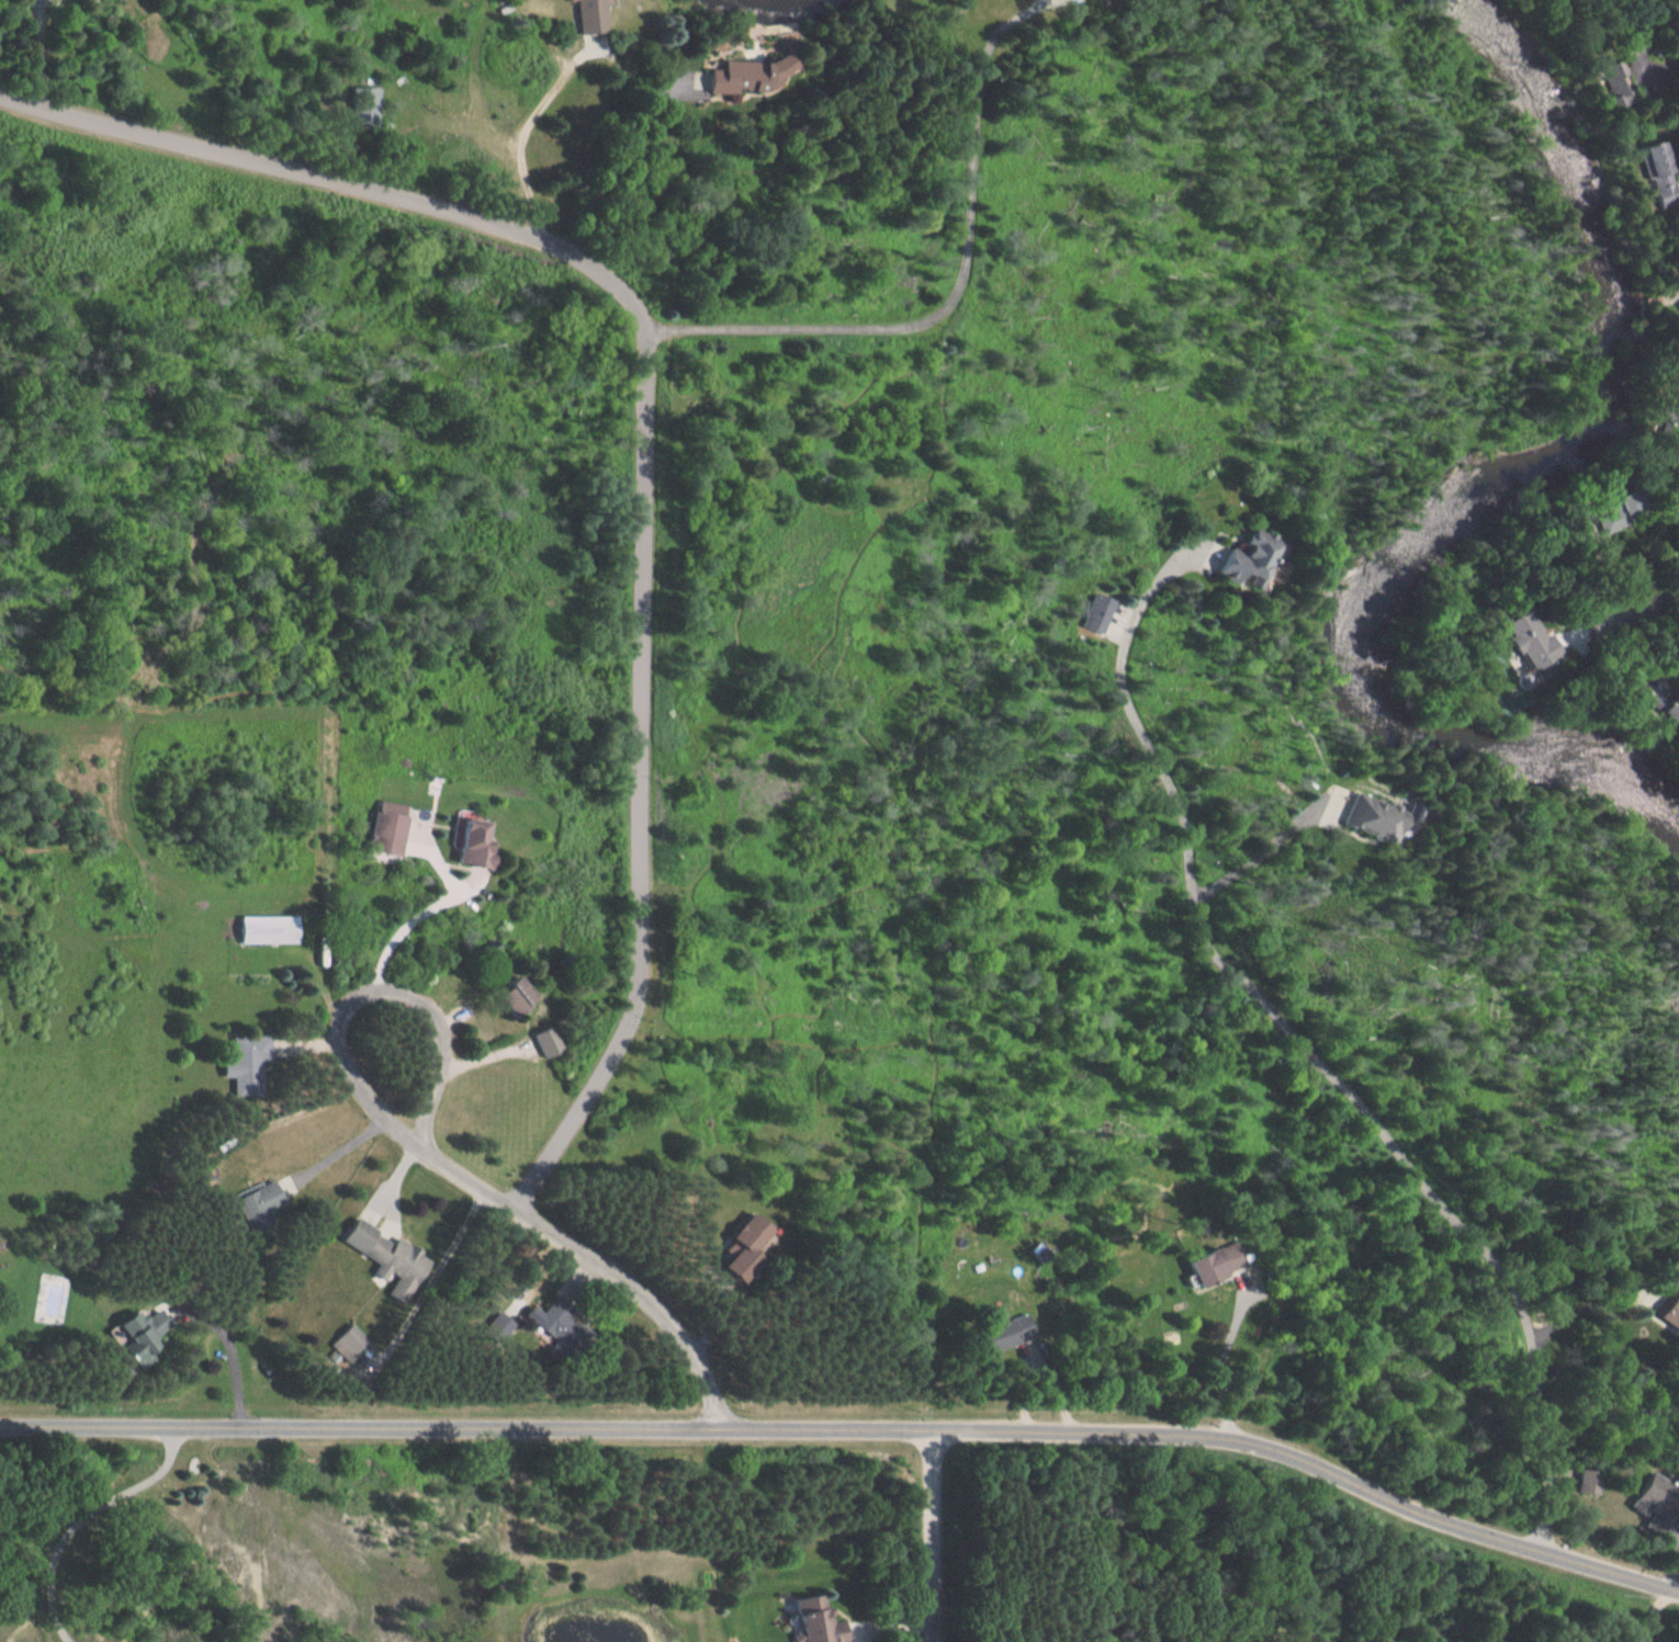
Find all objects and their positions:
building: (29, 1)
river: (776, 5)
building: (577, 16)
building: (451, 42)
building: (728, 77)
building: (1600, 82)
road: (520, 134)
building: (1643, 173)
building: (1677, 293)
building: (1665, 410)
road: (646, 437)
river: (1481, 499)
building: (1602, 510)
building: (1237, 559)
road: (1642, 603)
building: (1090, 614)
building: (1524, 639)
building: (1360, 818)
building: (382, 829)
building: (466, 845)
building: (264, 930)
road: (884, 953)
building: (506, 995)
road: (353, 1006)
building: (541, 1042)
road: (1314, 1046)
building: (247, 1066)
building: (201, 1178)
building: (255, 1203)
building: (380, 1252)
road: (596, 1258)
building: (732, 1264)
building: (1197, 1268)
road: (1585, 1310)
building: (1666, 1315)
building: (494, 1329)
building: (557, 1332)
building: (998, 1333)
building: (133, 1339)
building: (346, 1343)
road: (233, 1360)
road: (852, 1426)
building: (1587, 1483)
building: (1650, 1505)
road: (81, 1514)
road: (936, 1535)
building: (810, 1622)

